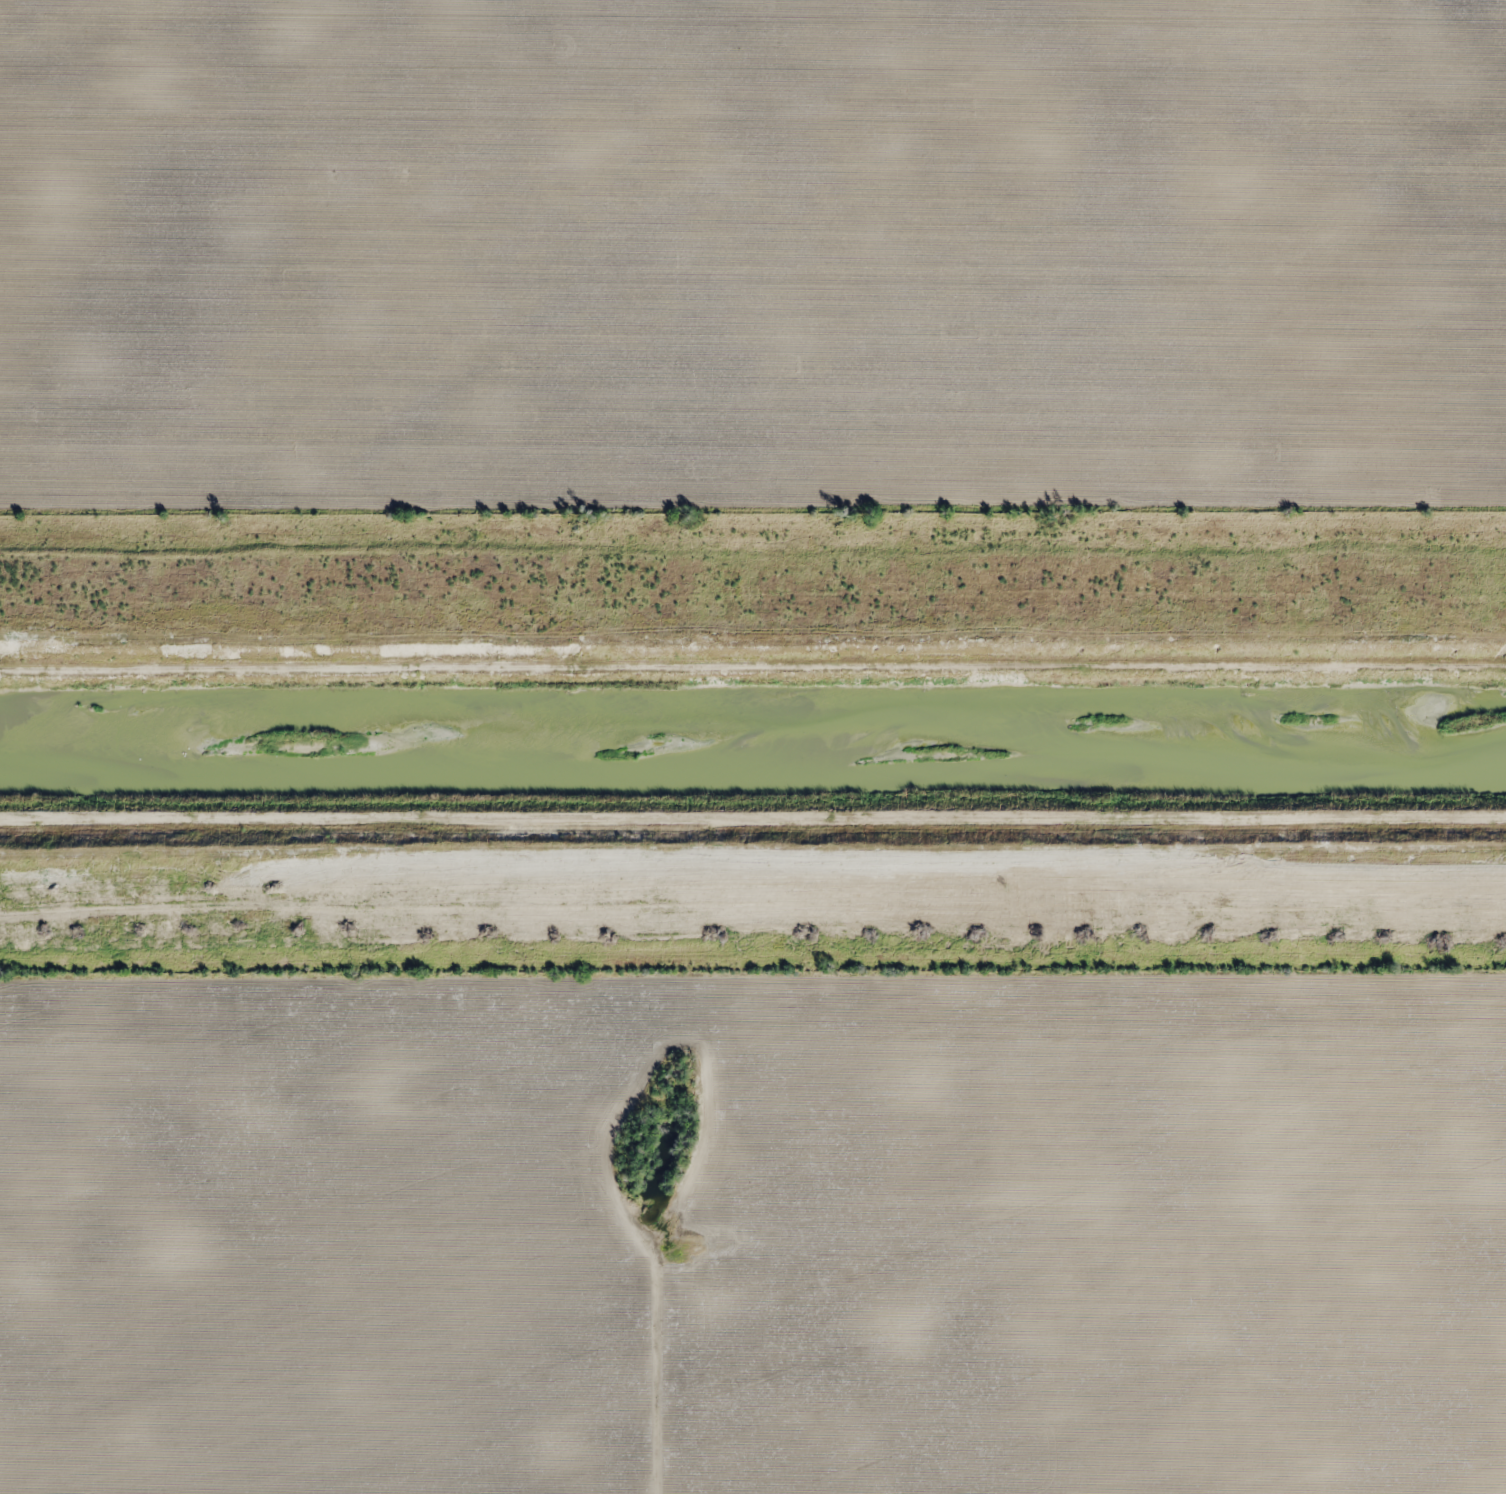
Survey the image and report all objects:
road: (1049, 1215)

